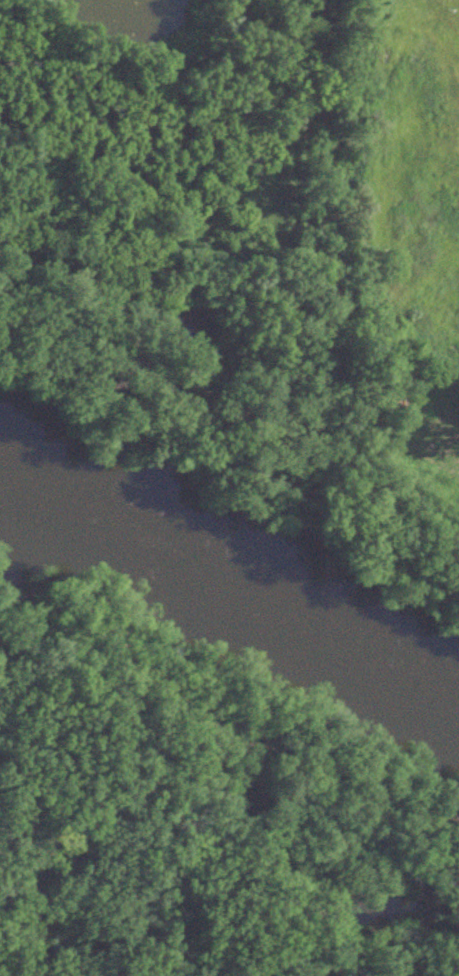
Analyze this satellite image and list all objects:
road: (319, 252)
river: (230, 579)
river: (125, 724)

